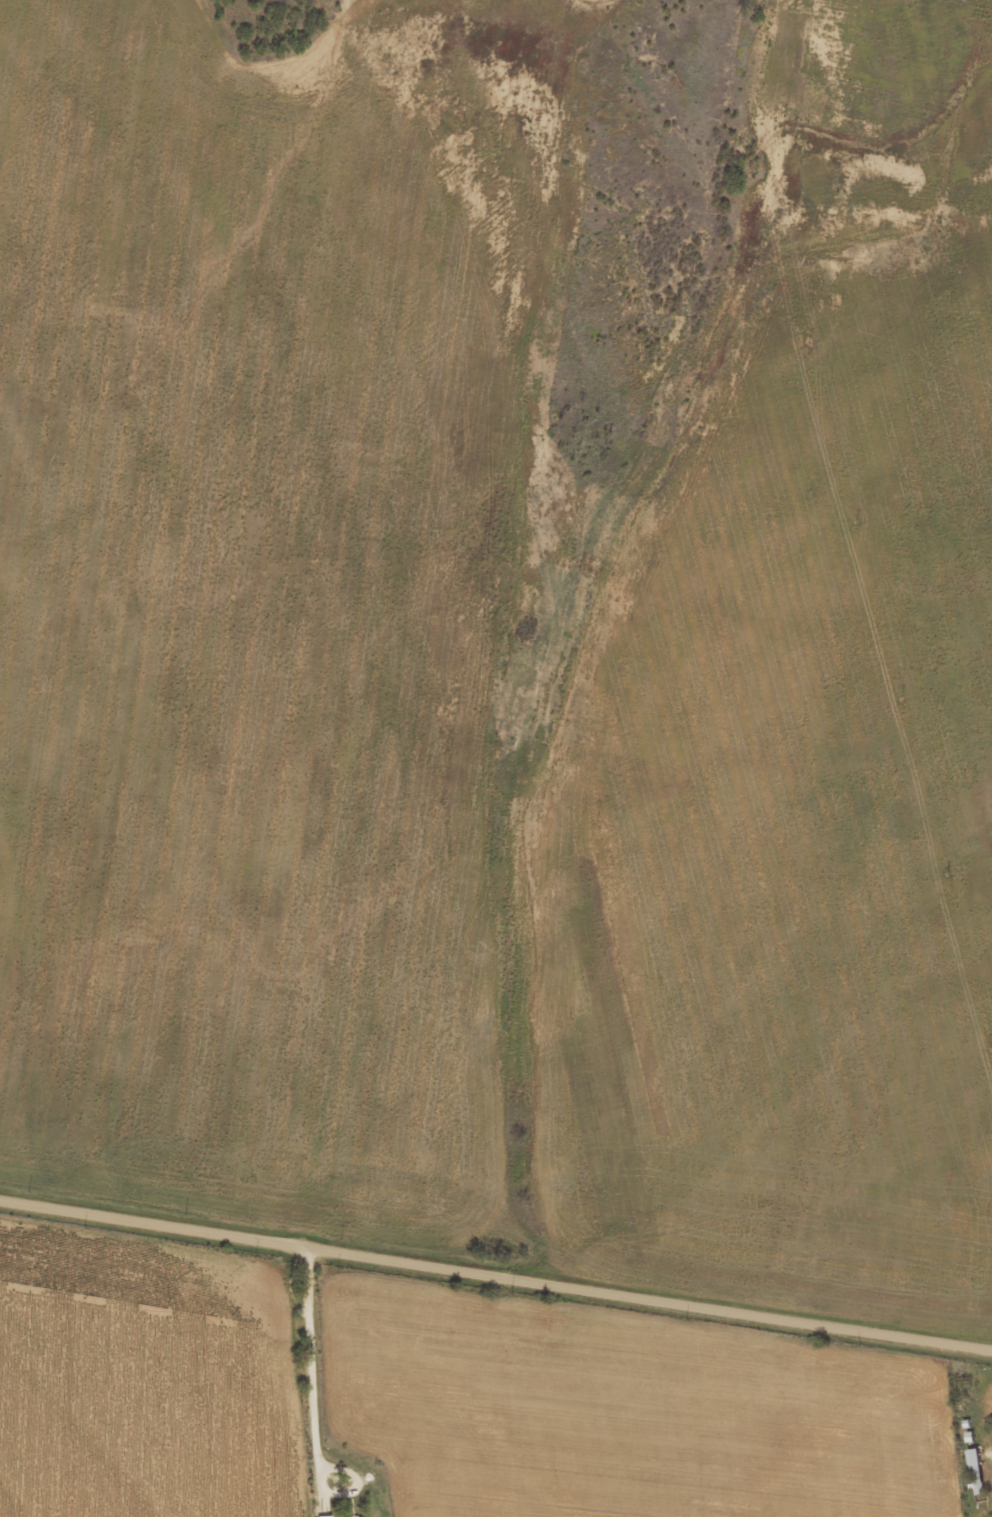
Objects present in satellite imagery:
road: (495, 1275)
road: (309, 1380)

